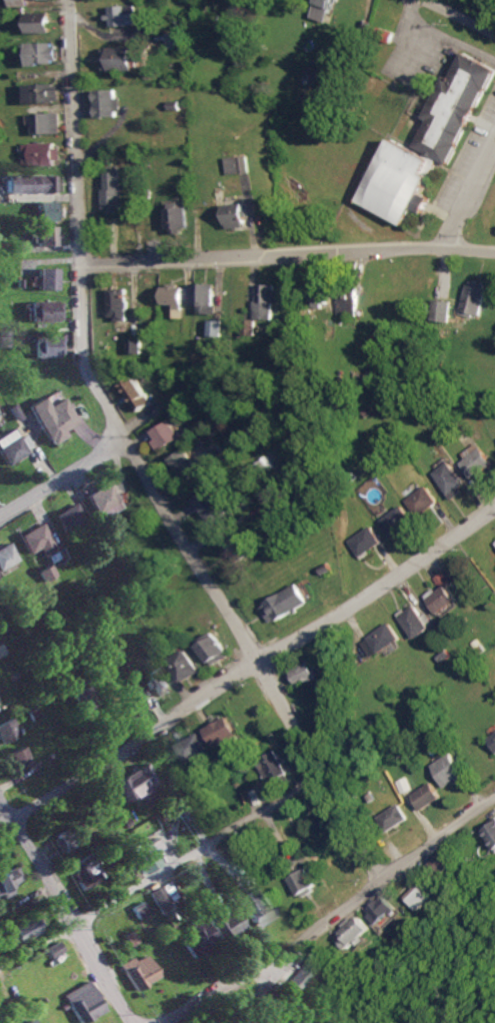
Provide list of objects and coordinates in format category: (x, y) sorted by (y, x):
building: (323, 9)
building: (123, 15)
road: (458, 17)
building: (39, 22)
building: (386, 34)
building: (174, 40)
building: (42, 53)
building: (118, 58)
building: (42, 93)
building: (106, 103)
building: (454, 108)
building: (47, 123)
building: (43, 153)
building: (240, 164)
building: (399, 182)
building: (31, 184)
building: (111, 190)
road: (468, 192)
building: (47, 210)
building: (236, 215)
building: (177, 218)
building: (47, 236)
road: (287, 254)
building: (47, 279)
building: (204, 297)
building: (174, 298)
building: (319, 298)
building: (474, 298)
building: (267, 300)
building: (117, 303)
building: (349, 304)
building: (440, 310)
building: (45, 311)
building: (216, 327)
building: (133, 345)
building: (49, 347)
building: (137, 394)
building: (54, 418)
building: (166, 434)
building: (11, 447)
building: (474, 461)
road: (141, 464)
building: (186, 464)
road: (63, 477)
building: (449, 479)
building: (103, 501)
building: (422, 501)
building: (212, 506)
building: (69, 517)
building: (396, 521)
building: (38, 540)
building: (367, 541)
building: (494, 543)
building: (239, 549)
building: (7, 556)
building: (47, 573)
building: (442, 579)
building: (442, 598)
building: (286, 603)
building: (416, 621)
building: (381, 639)
building: (216, 648)
building: (1, 651)
road: (246, 663)
building: (188, 665)
building: (305, 673)
building: (156, 680)
building: (82, 700)
building: (6, 730)
building: (223, 731)
building: (492, 740)
building: (195, 748)
building: (15, 759)
building: (276, 769)
building: (449, 769)
building: (133, 783)
building: (426, 795)
building: (392, 817)
building: (491, 832)
building: (67, 837)
building: (143, 855)
building: (441, 863)
building: (82, 871)
road: (160, 872)
road: (385, 875)
building: (6, 880)
building: (307, 883)
building: (415, 896)
building: (158, 899)
building: (248, 907)
building: (137, 909)
building: (380, 909)
road: (64, 914)
building: (219, 923)
building: (19, 929)
building: (354, 931)
building: (192, 937)
building: (51, 949)
building: (304, 958)
building: (135, 971)
building: (294, 976)
road: (218, 990)
road: (258, 991)
building: (79, 1002)
building: (28, 1021)

